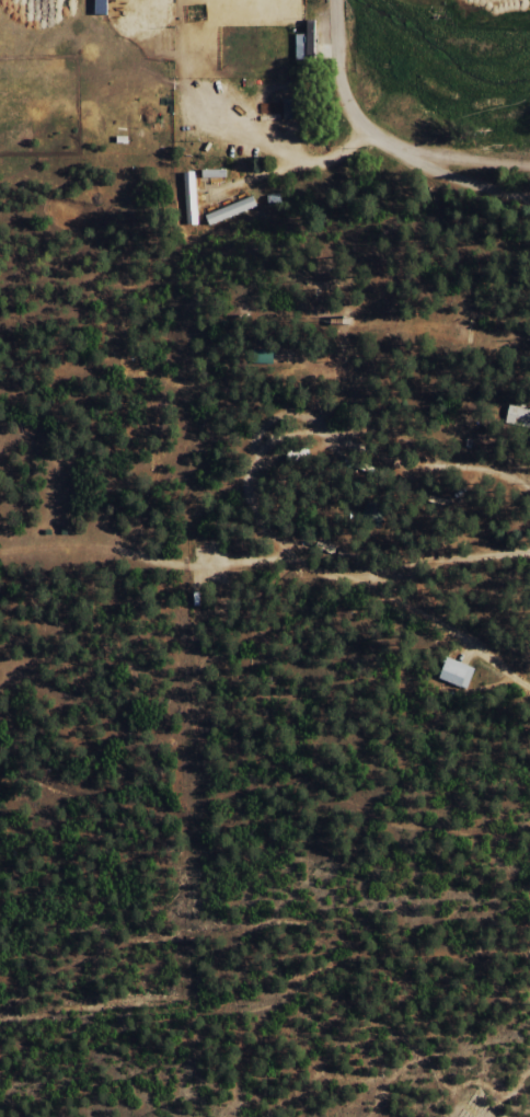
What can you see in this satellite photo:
park: (124, 7)
building: (103, 8)
building: (304, 42)
road: (383, 142)
road: (464, 159)
building: (191, 199)
building: (231, 210)
building: (263, 358)
building: (518, 414)
road: (276, 454)
building: (372, 514)
road: (414, 599)
building: (456, 671)
road: (254, 759)
road: (508, 832)
road: (528, 959)
road: (299, 976)
road: (470, 1082)

